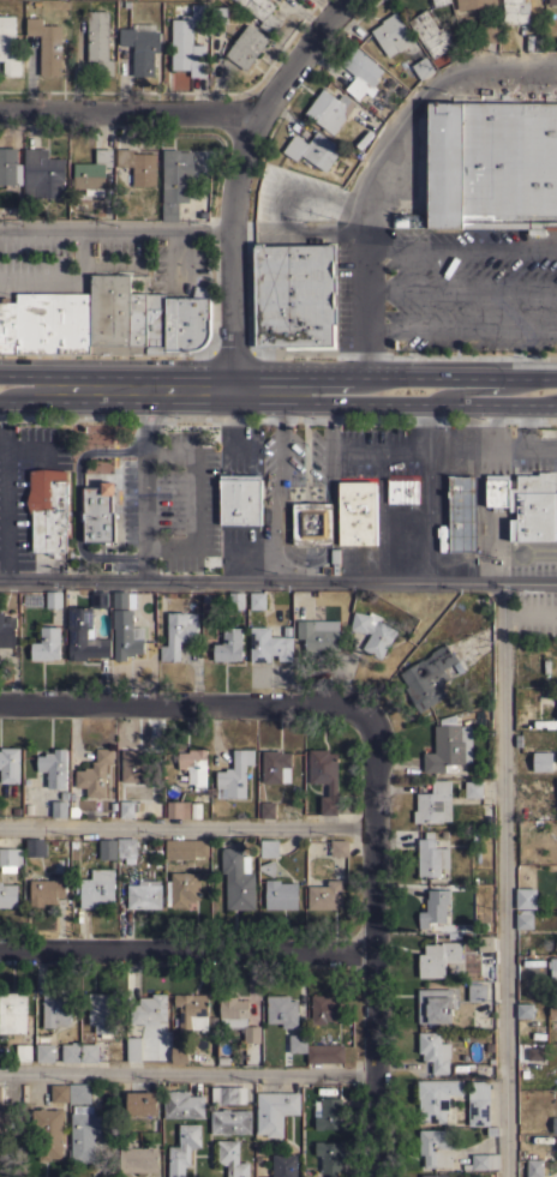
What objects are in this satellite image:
building: (438, 1)
building: (552, 1)
building: (473, 2)
building: (515, 10)
building: (262, 12)
building: (218, 14)
building: (430, 32)
building: (491, 34)
building: (393, 35)
building: (187, 37)
building: (100, 41)
building: (535, 42)
building: (47, 44)
building: (8, 46)
building: (142, 46)
building: (246, 46)
building: (423, 67)
building: (361, 72)
building: (329, 109)
road: (131, 110)
building: (313, 149)
building: (138, 164)
building: (492, 164)
building: (8, 166)
building: (92, 173)
building: (42, 174)
building: (174, 180)
road: (236, 182)
building: (400, 221)
road: (323, 229)
road: (459, 245)
road: (65, 277)
road: (459, 289)
parking lot: (450, 290)
building: (294, 295)
road: (359, 296)
building: (116, 316)
building: (187, 319)
building: (53, 322)
building: (156, 322)
building: (7, 325)
road: (457, 331)
road: (115, 374)
road: (394, 374)
road: (58, 389)
road: (483, 389)
road: (61, 397)
road: (178, 397)
road: (394, 398)
road: (136, 412)
road: (156, 412)
road: (327, 449)
road: (442, 450)
building: (403, 490)
road: (432, 490)
building: (497, 491)
road: (197, 498)
building: (239, 499)
road: (144, 500)
road: (77, 502)
road: (283, 502)
building: (533, 506)
road: (5, 508)
building: (48, 510)
building: (98, 511)
building: (357, 512)
building: (461, 512)
road: (325, 521)
building: (312, 523)
building: (443, 538)
road: (537, 552)
building: (335, 560)
road: (278, 577)
building: (53, 599)
building: (124, 600)
building: (236, 600)
building: (257, 600)
building: (7, 630)
building: (85, 630)
building: (372, 631)
building: (318, 632)
building: (178, 633)
building: (126, 635)
building: (46, 644)
building: (229, 644)
building: (268, 644)
building: (427, 677)
road: (185, 704)
building: (448, 746)
building: (543, 761)
building: (10, 764)
building: (136, 765)
building: (193, 765)
building: (276, 765)
building: (53, 768)
building: (95, 774)
building: (234, 775)
building: (324, 776)
building: (473, 788)
building: (432, 801)
building: (59, 807)
building: (131, 807)
building: (178, 809)
building: (268, 809)
road: (187, 827)
building: (35, 847)
building: (269, 847)
building: (339, 847)
building: (107, 848)
building: (126, 848)
building: (185, 848)
building: (431, 855)
building: (10, 859)
building: (268, 866)
road: (502, 878)
building: (238, 879)
building: (96, 888)
building: (181, 888)
building: (46, 890)
building: (144, 894)
building: (281, 894)
building: (7, 895)
building: (325, 895)
building: (526, 897)
building: (435, 907)
building: (526, 919)
building: (486, 942)
road: (371, 949)
road: (185, 951)
building: (438, 957)
building: (552, 966)
building: (477, 991)
building: (435, 1004)
building: (325, 1008)
building: (56, 1009)
building: (149, 1009)
building: (192, 1010)
building: (281, 1010)
building: (525, 1010)
building: (12, 1011)
building: (103, 1011)
building: (236, 1017)
building: (55, 1049)
building: (134, 1049)
building: (316, 1050)
building: (24, 1051)
building: (95, 1051)
building: (435, 1051)
building: (535, 1052)
building: (179, 1055)
road: (186, 1073)
building: (59, 1092)
building: (79, 1092)
building: (0, 1093)
building: (228, 1094)
building: (436, 1098)
building: (478, 1103)
building: (182, 1104)
building: (142, 1105)
building: (272, 1111)
building: (328, 1113)
building: (230, 1121)
building: (4, 1124)
building: (555, 1124)
building: (47, 1131)
building: (84, 1133)
building: (437, 1146)
building: (182, 1148)
building: (330, 1157)
building: (138, 1158)
building: (230, 1158)
building: (483, 1161)
building: (283, 1165)
building: (534, 1167)
building: (433, 1175)

